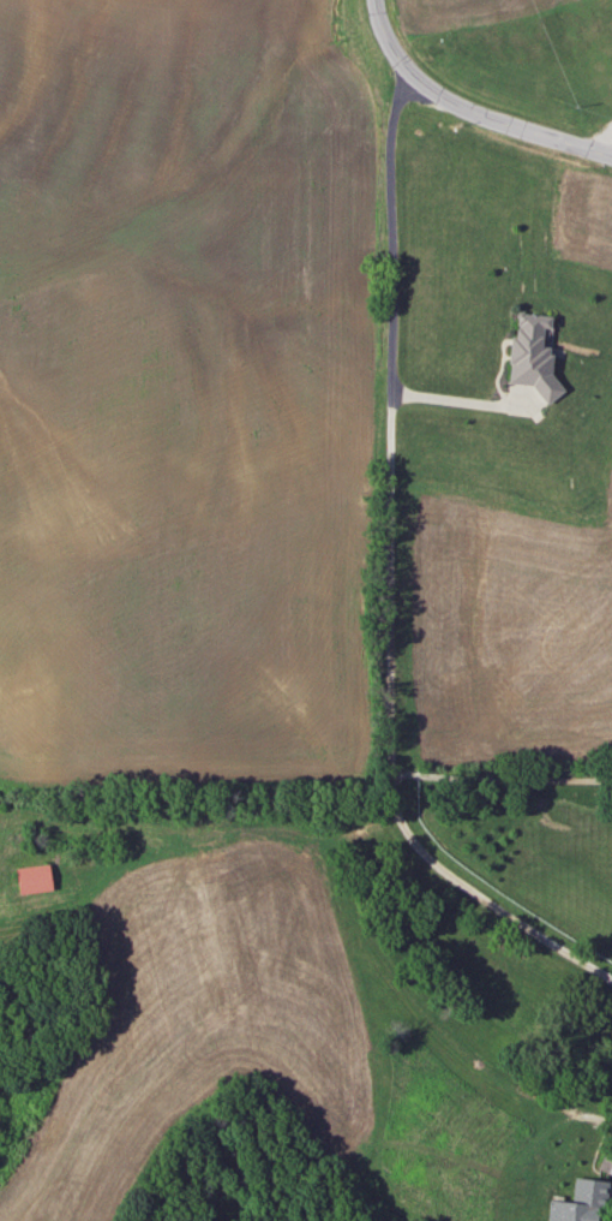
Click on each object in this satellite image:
road: (468, 113)
road: (600, 139)
building: (530, 355)
road: (458, 399)
road: (390, 580)
road: (500, 779)
building: (32, 877)
building: (576, 1202)

